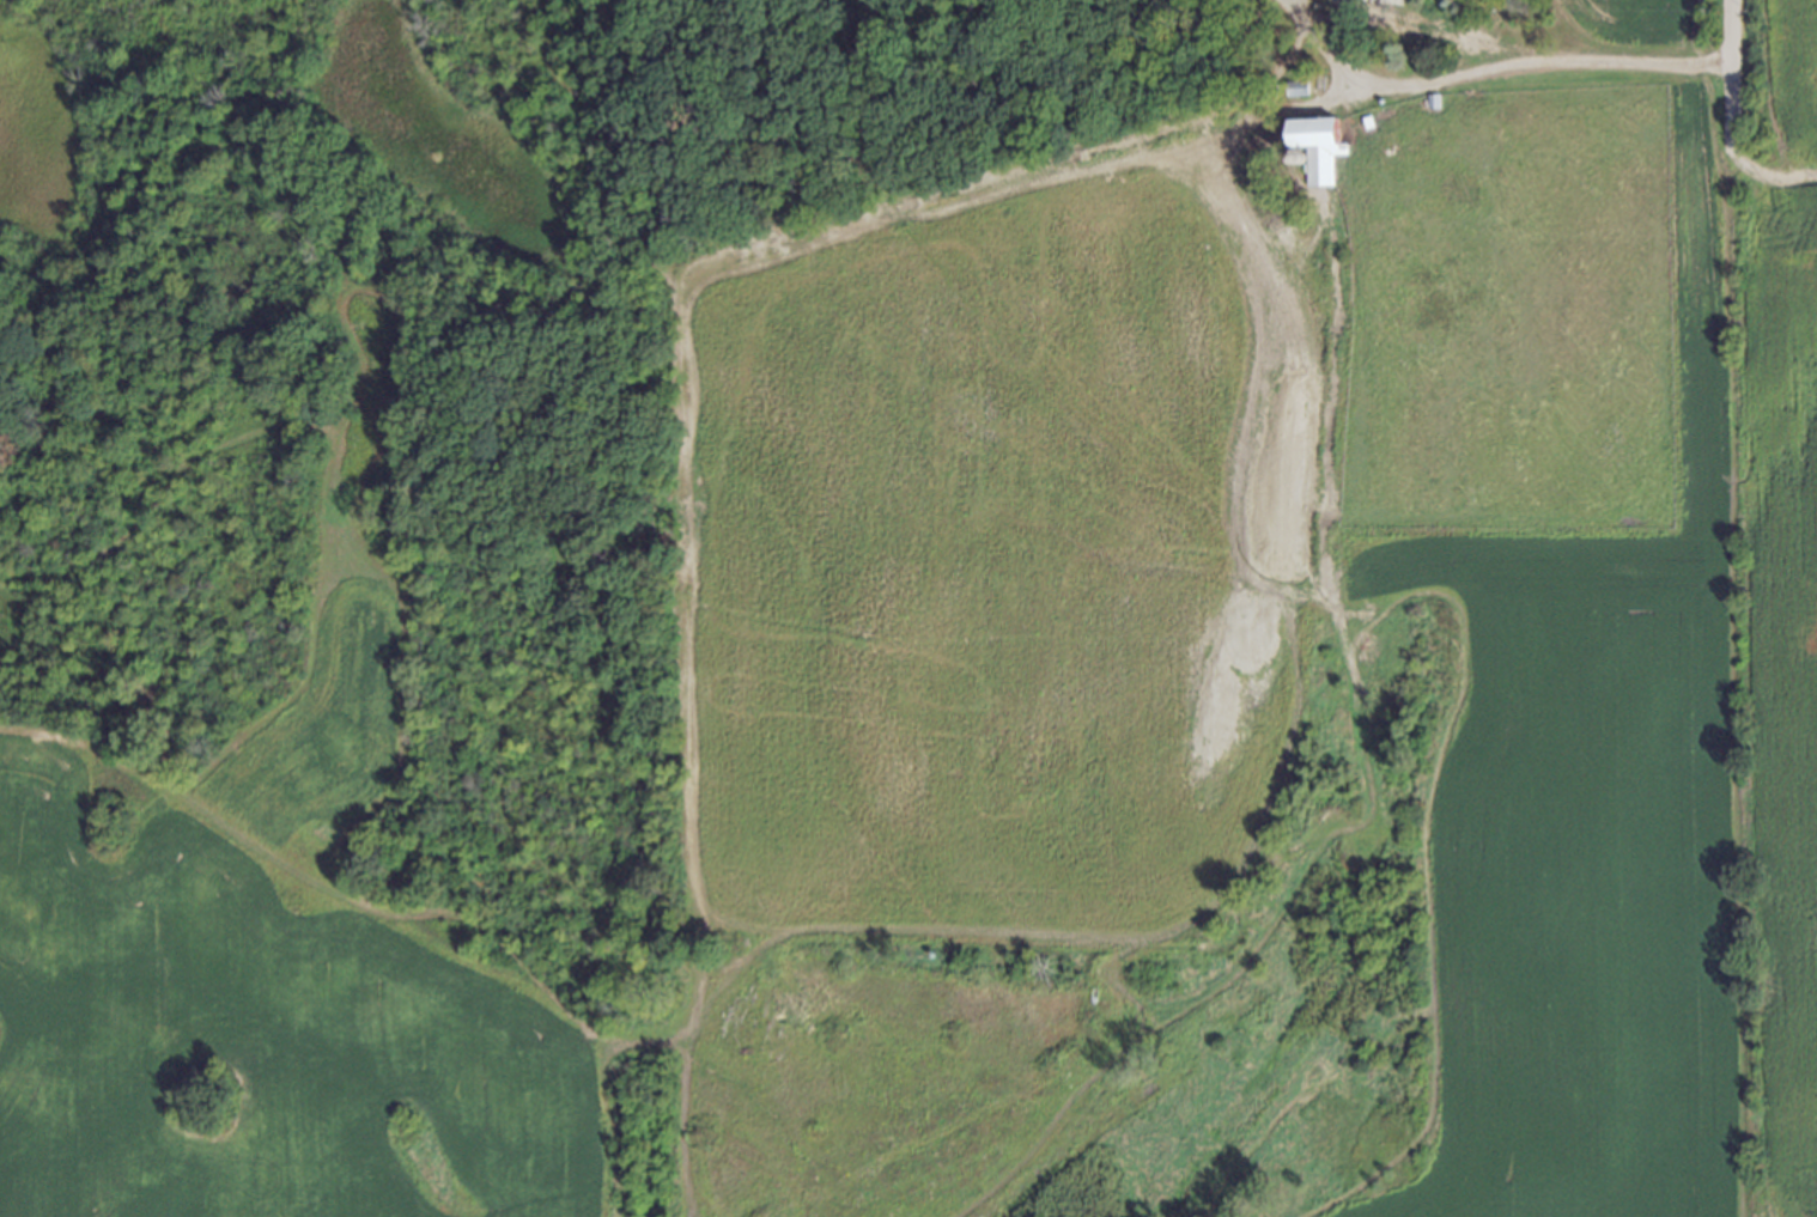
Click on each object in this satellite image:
road: (1488, 65)
building: (1292, 71)
road: (1727, 73)
building: (1296, 87)
building: (1430, 103)
building: (1365, 117)
building: (1314, 142)
road: (1769, 170)

